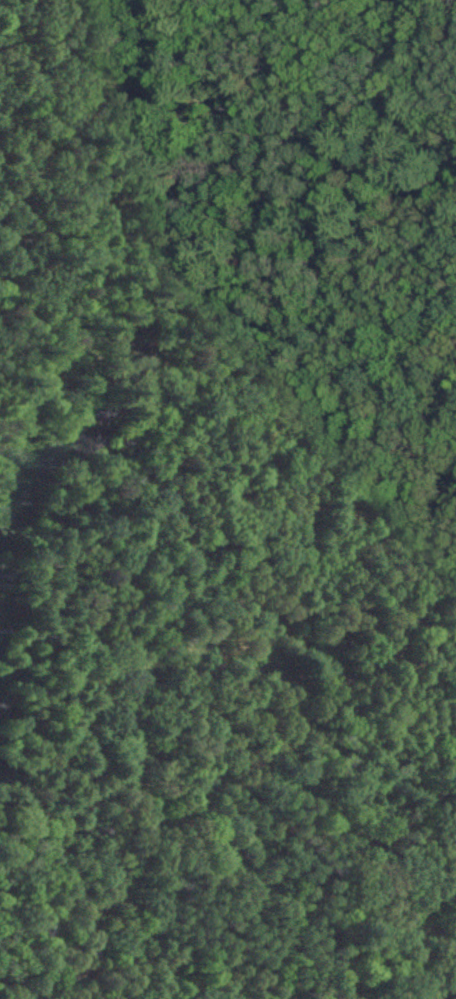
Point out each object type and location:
road: (230, 757)

